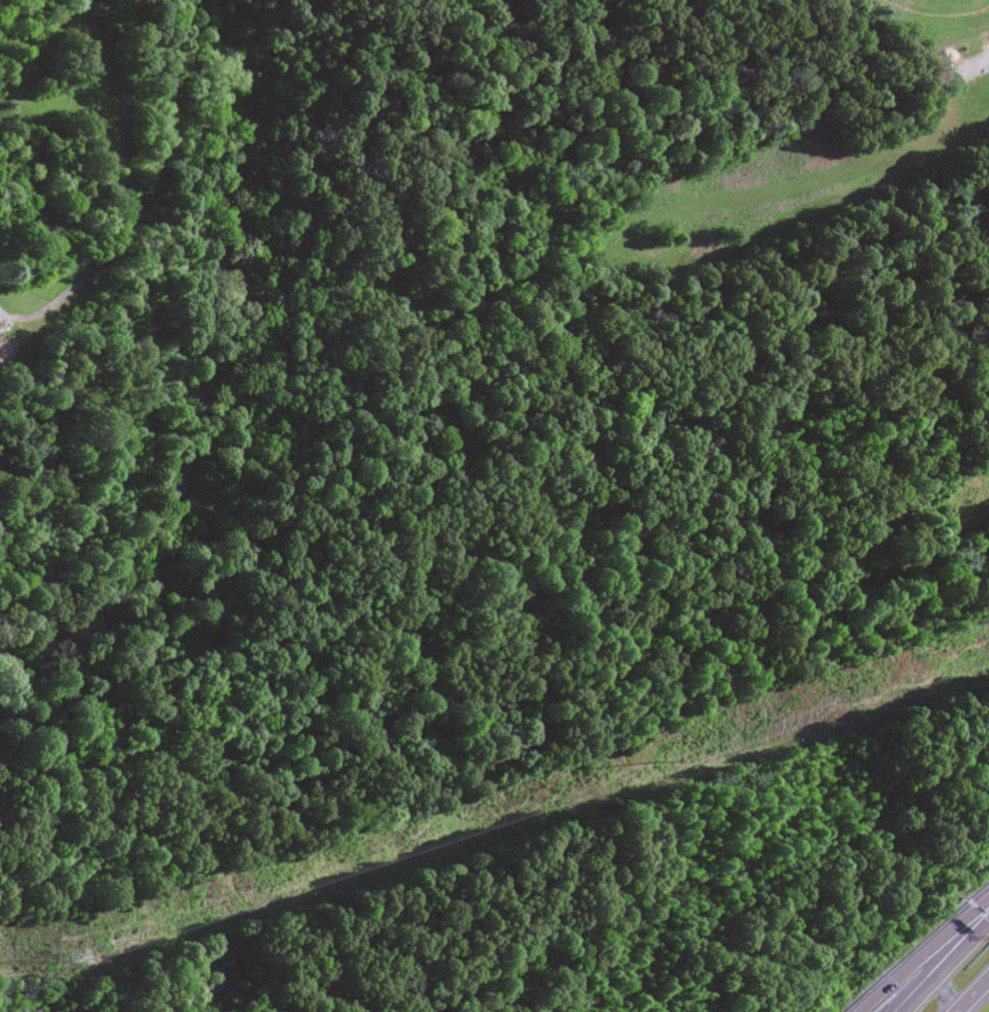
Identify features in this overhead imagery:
park: (987, 0)
road: (924, 956)
road: (945, 968)
road: (973, 996)

